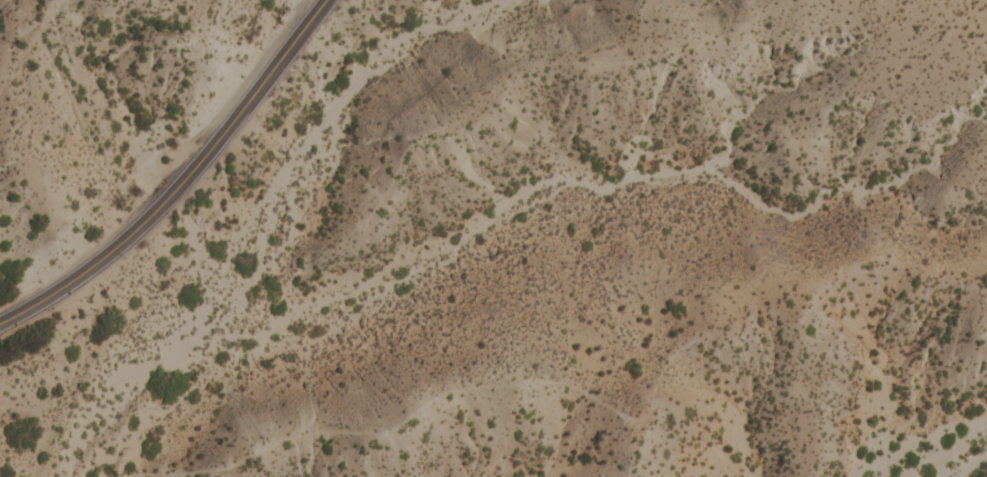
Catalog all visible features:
road: (180, 181)

